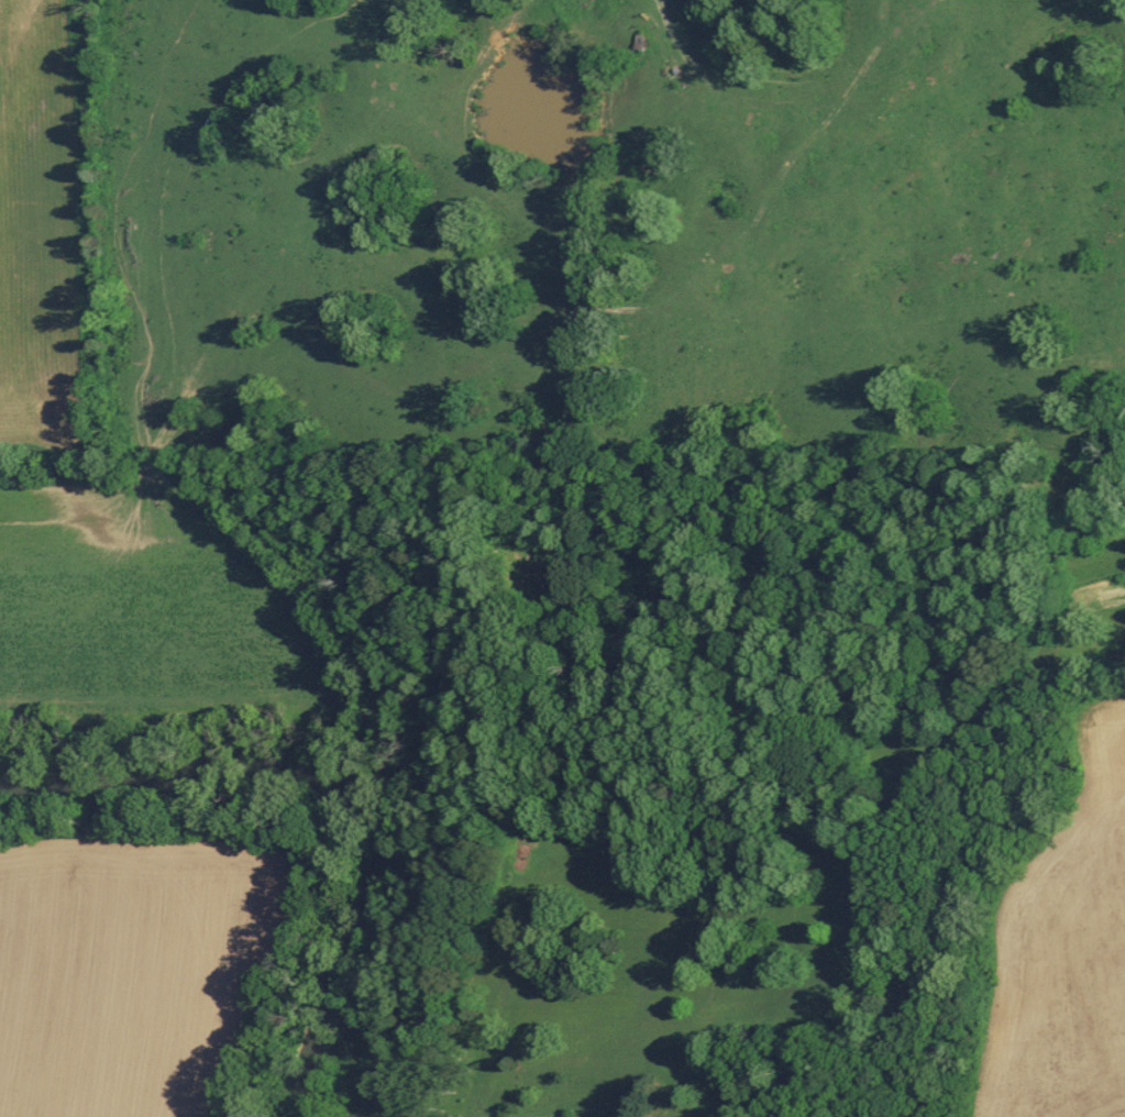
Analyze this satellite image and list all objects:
river: (379, 767)

